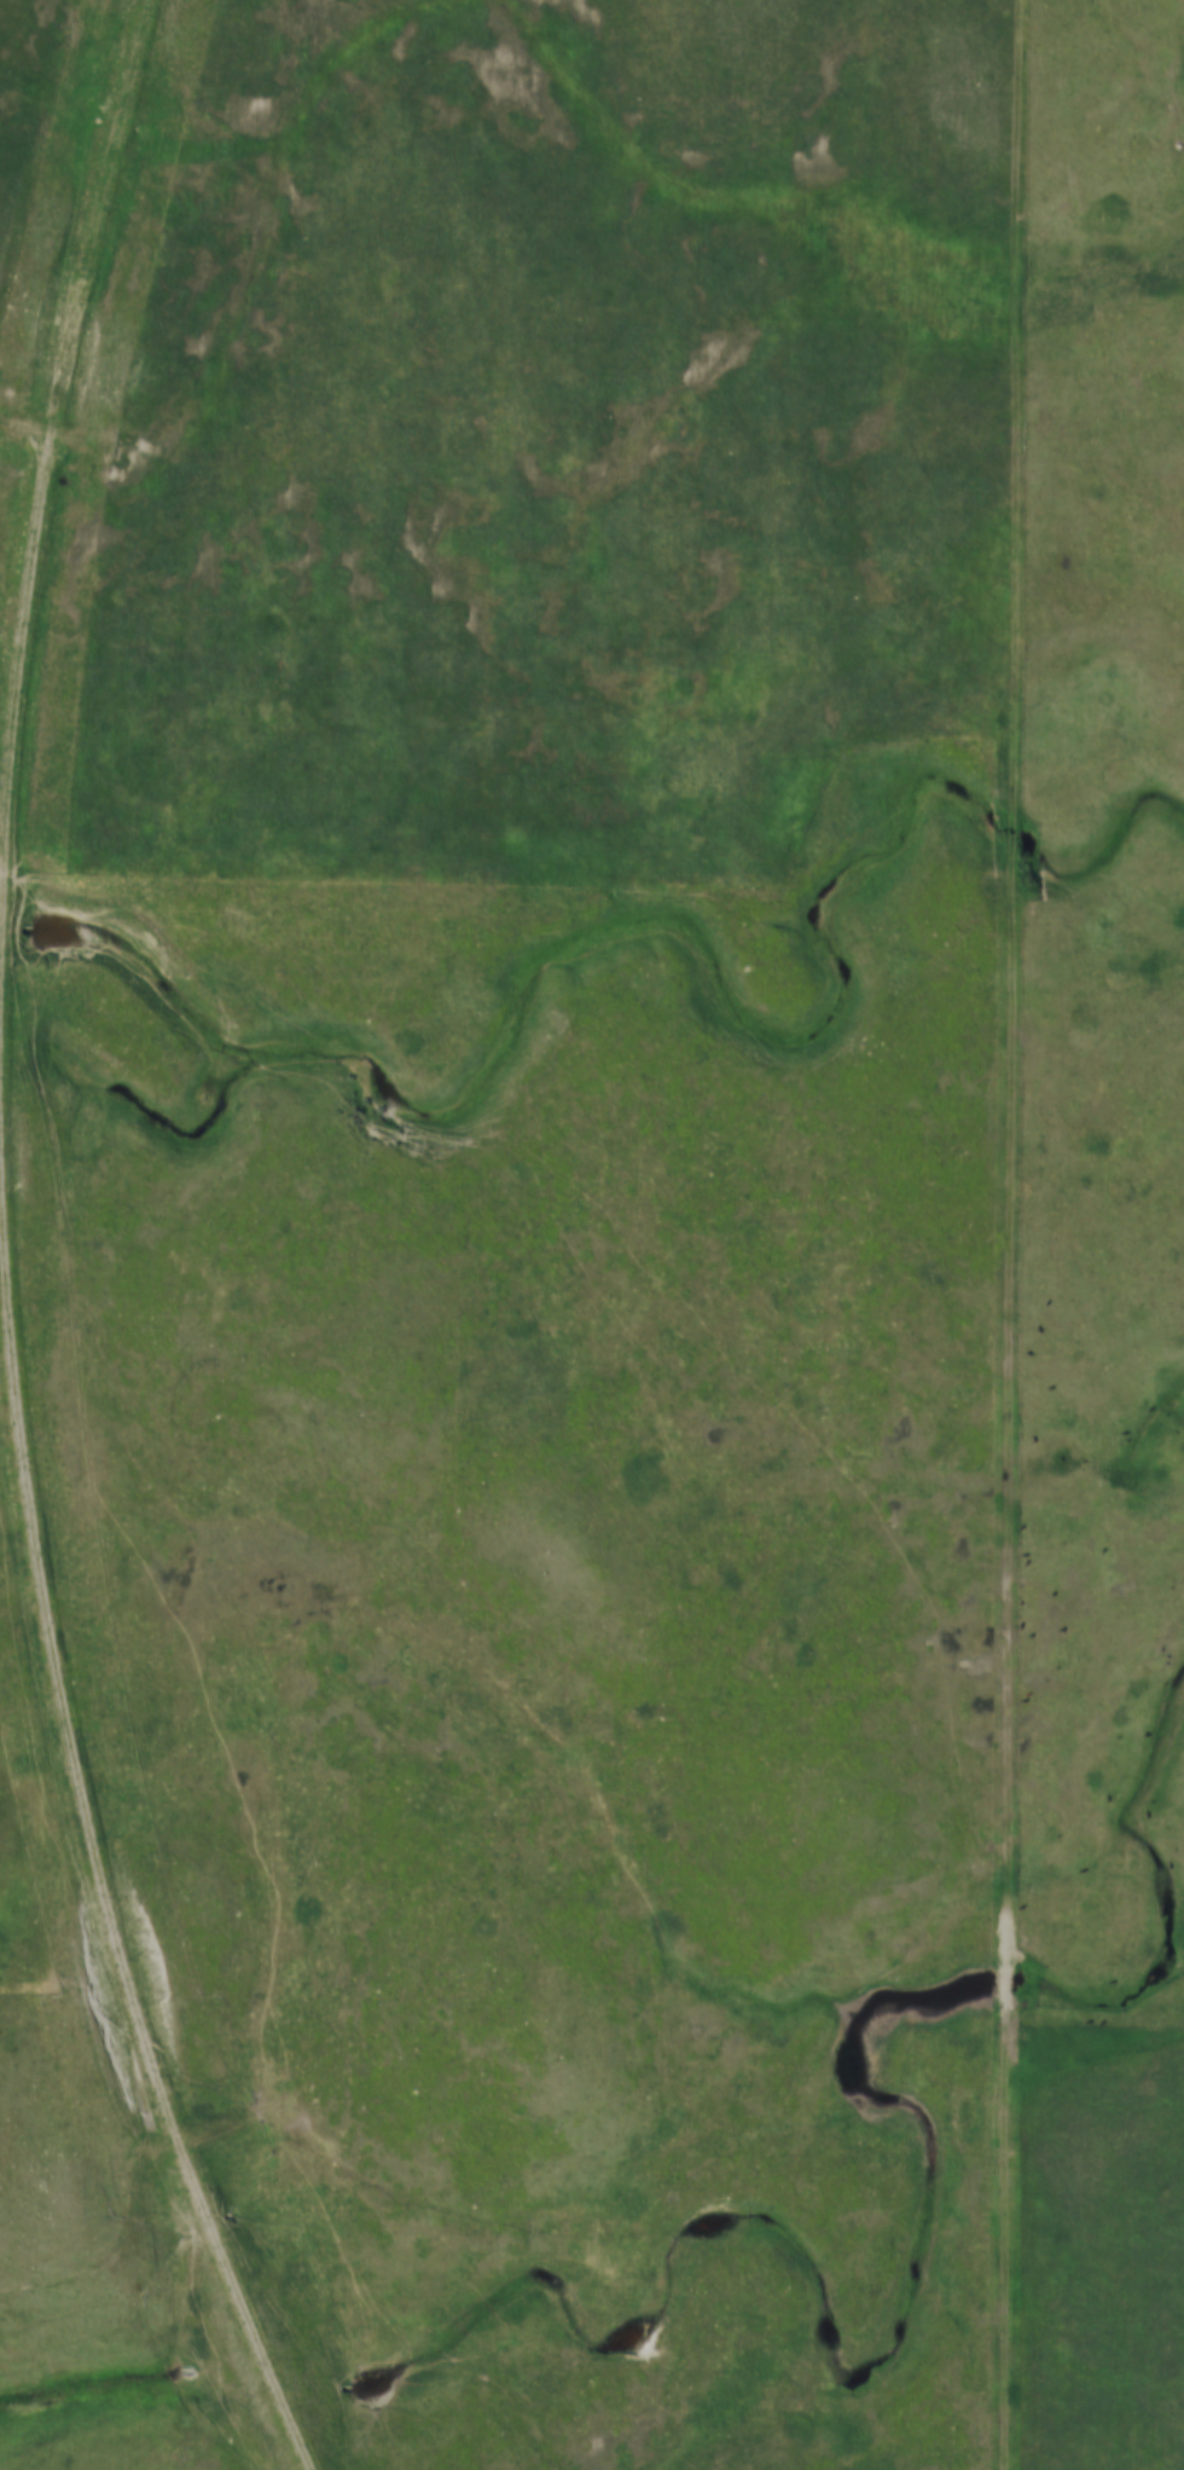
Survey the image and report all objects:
road: (1009, 1234)

